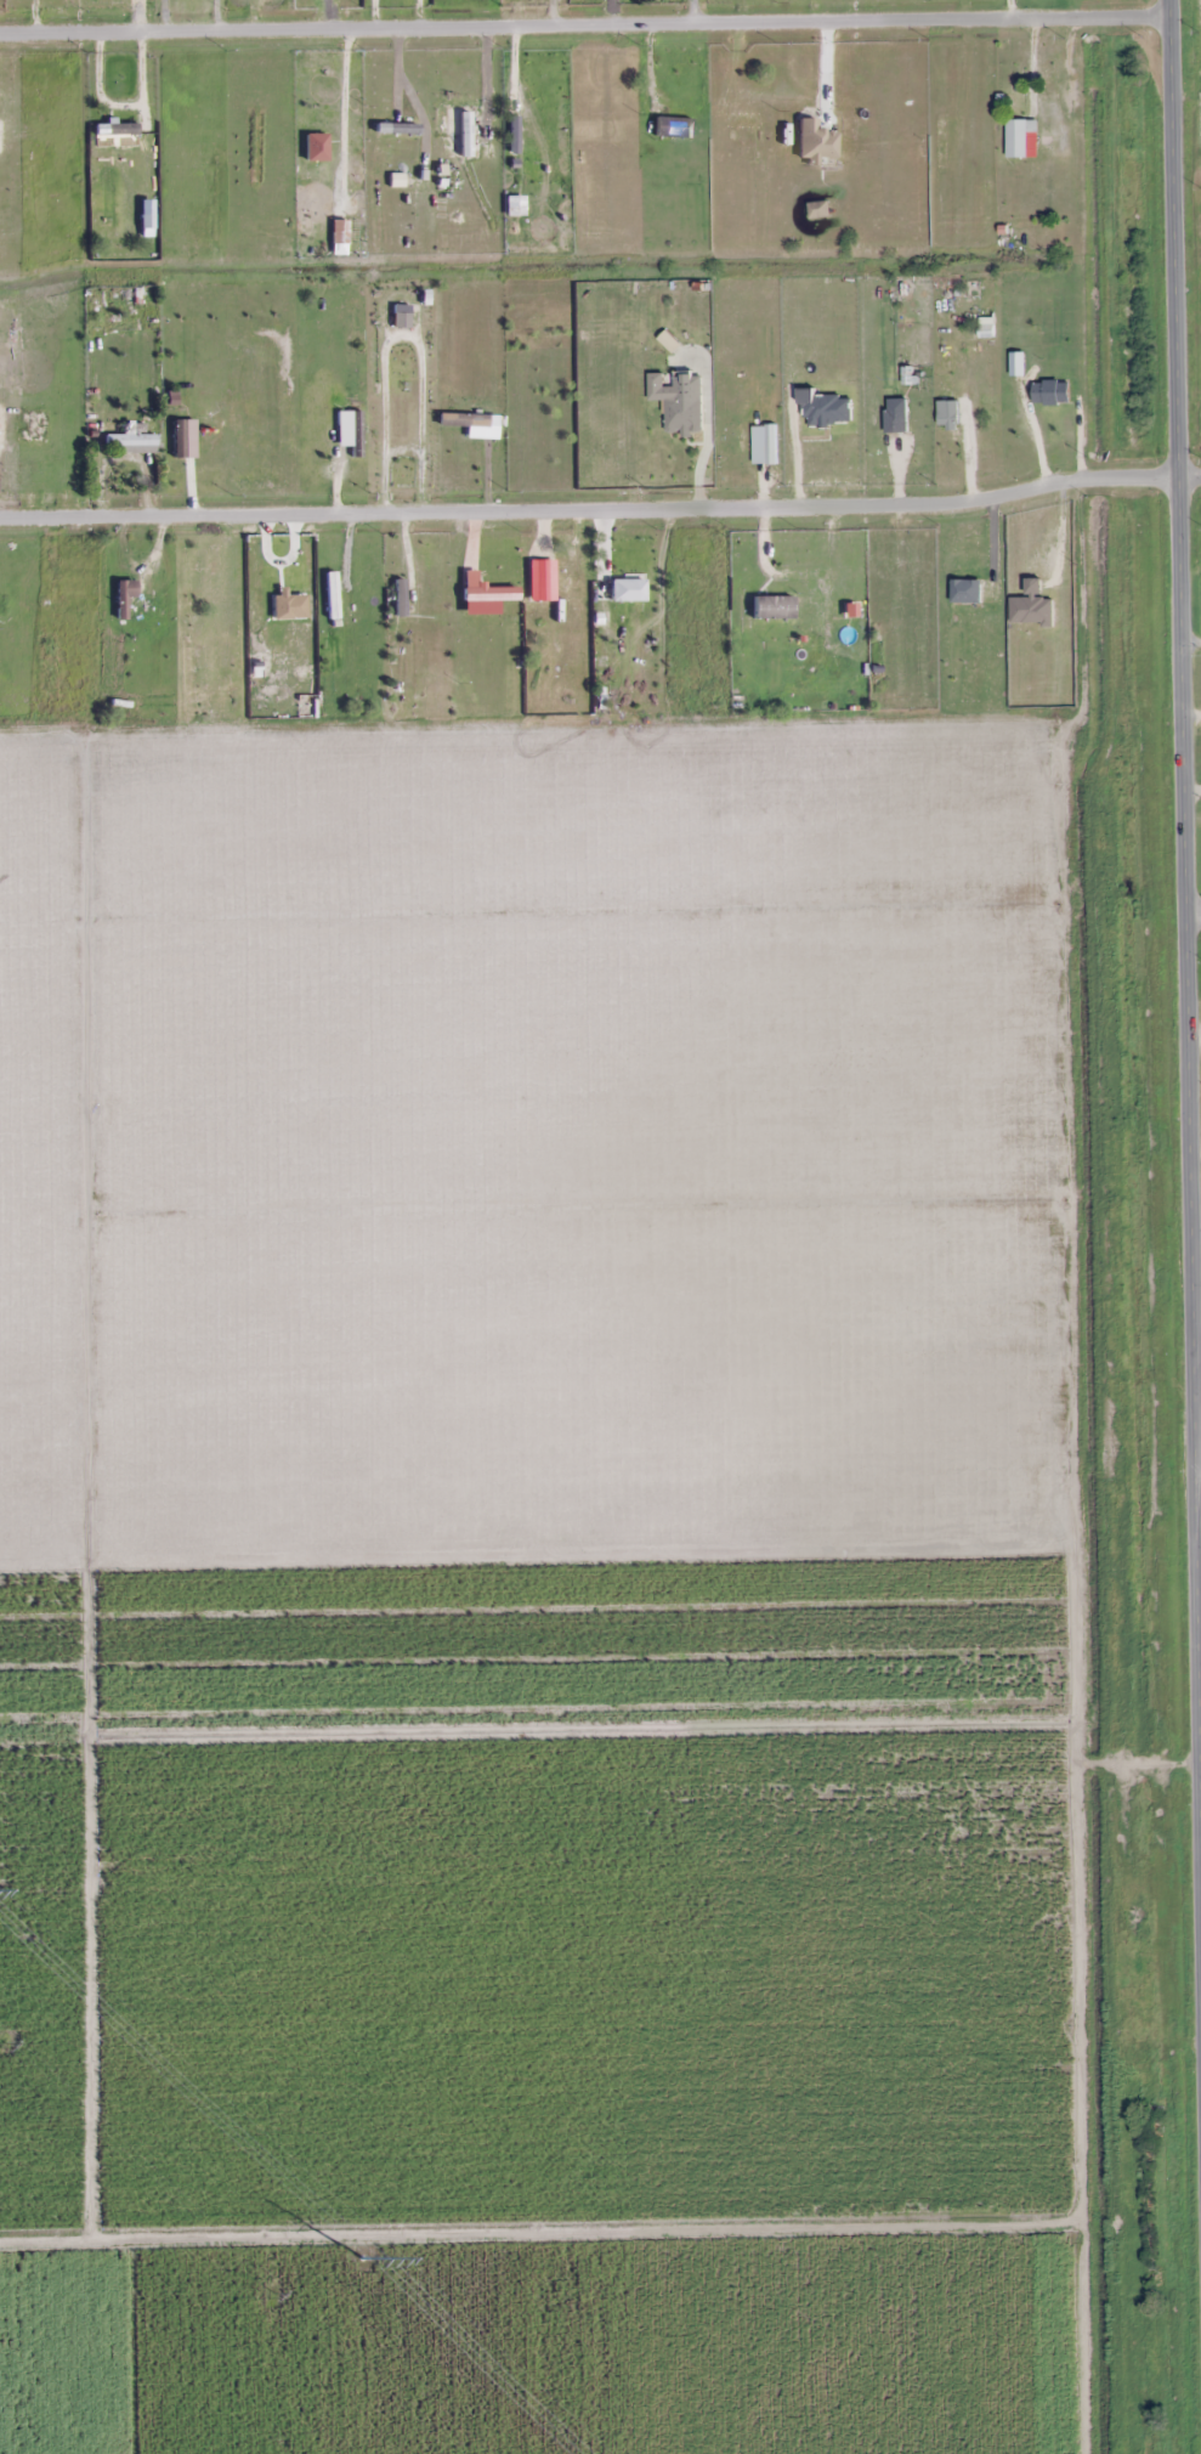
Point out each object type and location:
road: (1189, 474)
road: (1184, 906)
road: (1192, 915)
road: (1196, 1347)
power tower: (362, 2254)
power tower: (267, 2292)

